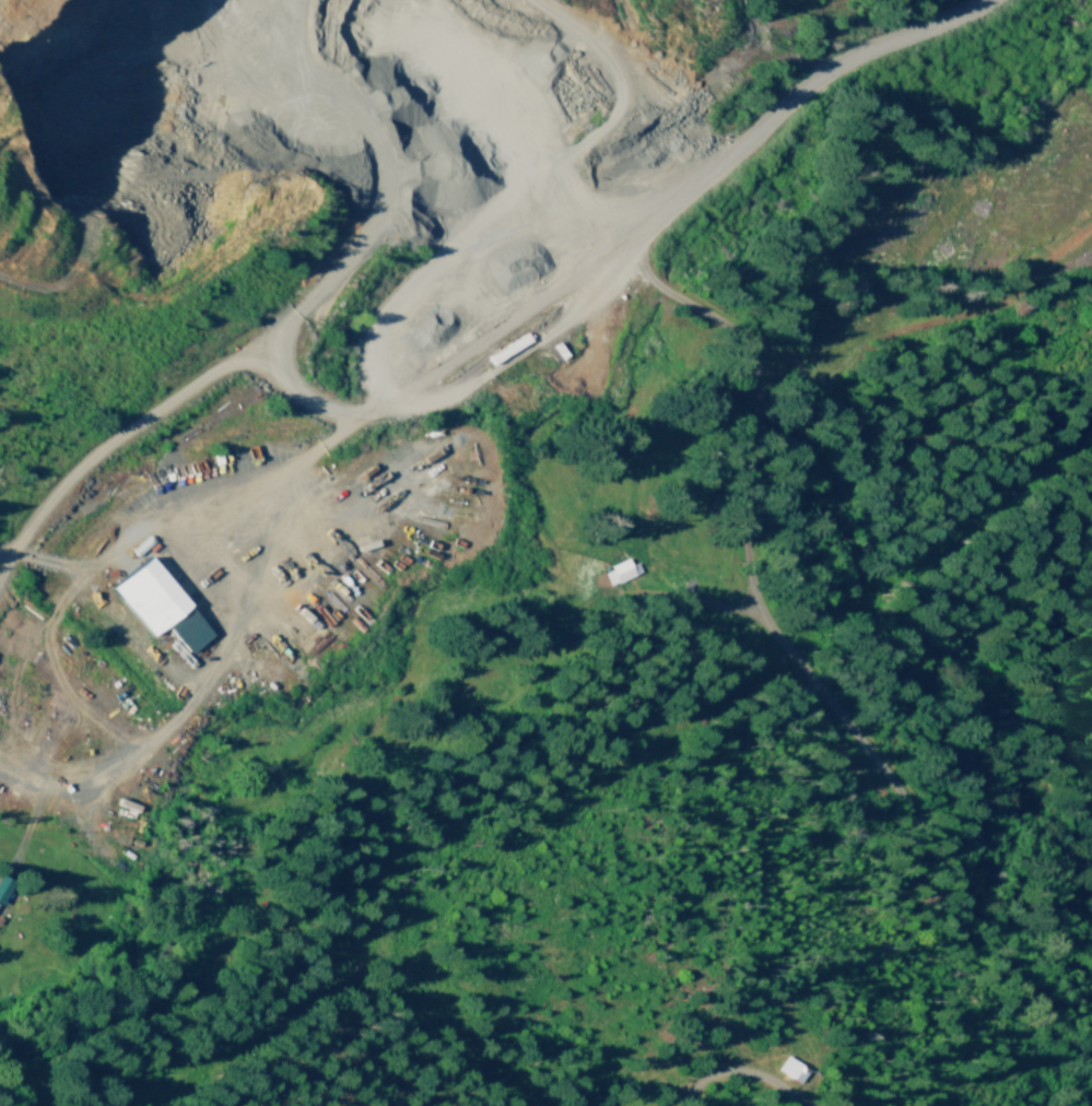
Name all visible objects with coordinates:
road: (493, 294)
building: (162, 604)
building: (3, 884)
building: (787, 1068)

